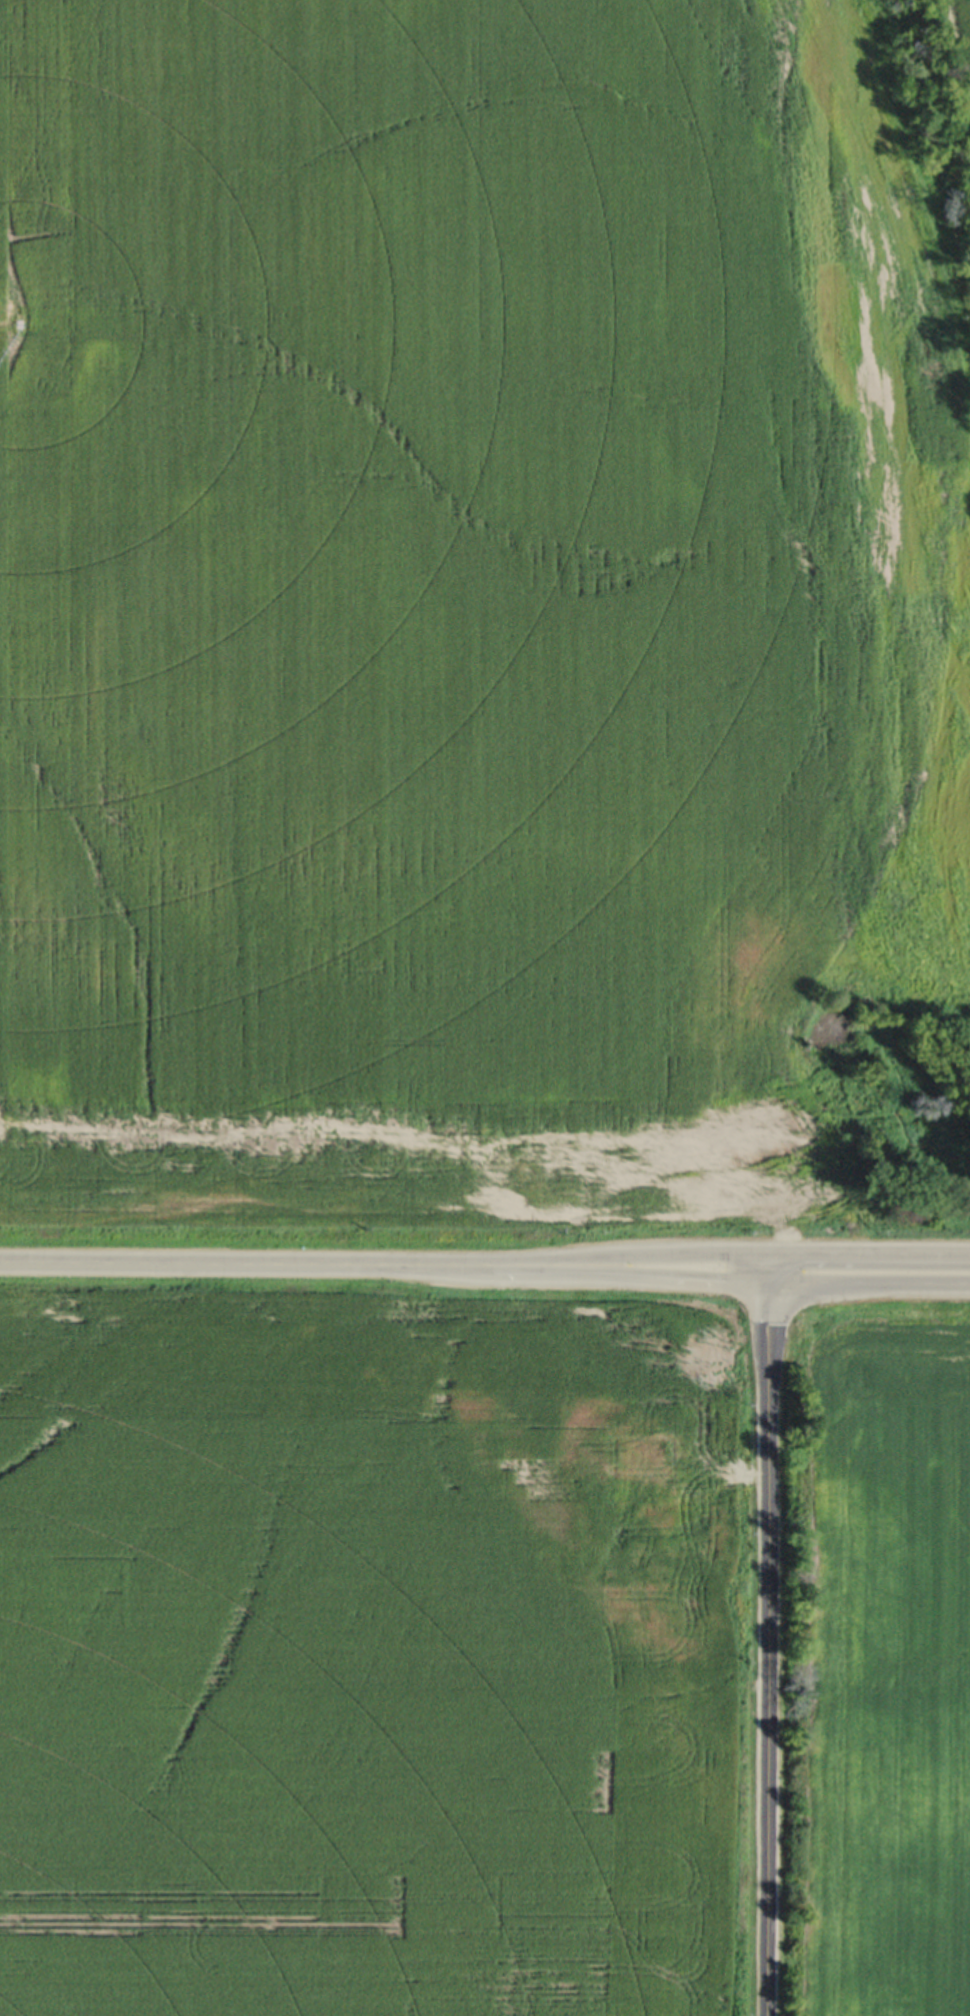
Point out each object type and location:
road: (705, 1251)
road: (221, 1259)
road: (705, 1277)
road: (765, 1633)

